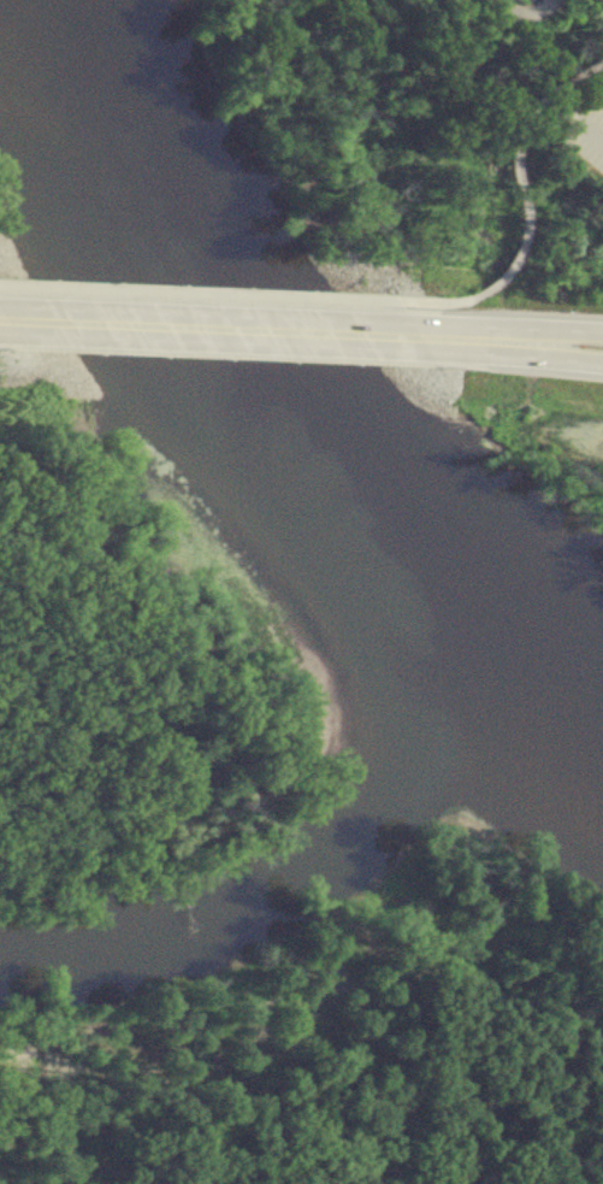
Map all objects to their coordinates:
road: (593, 131)
road: (520, 195)
road: (196, 293)
road: (1, 319)
road: (215, 329)
road: (515, 335)
road: (515, 349)
river: (267, 403)
river: (300, 873)
park: (385, 1115)

